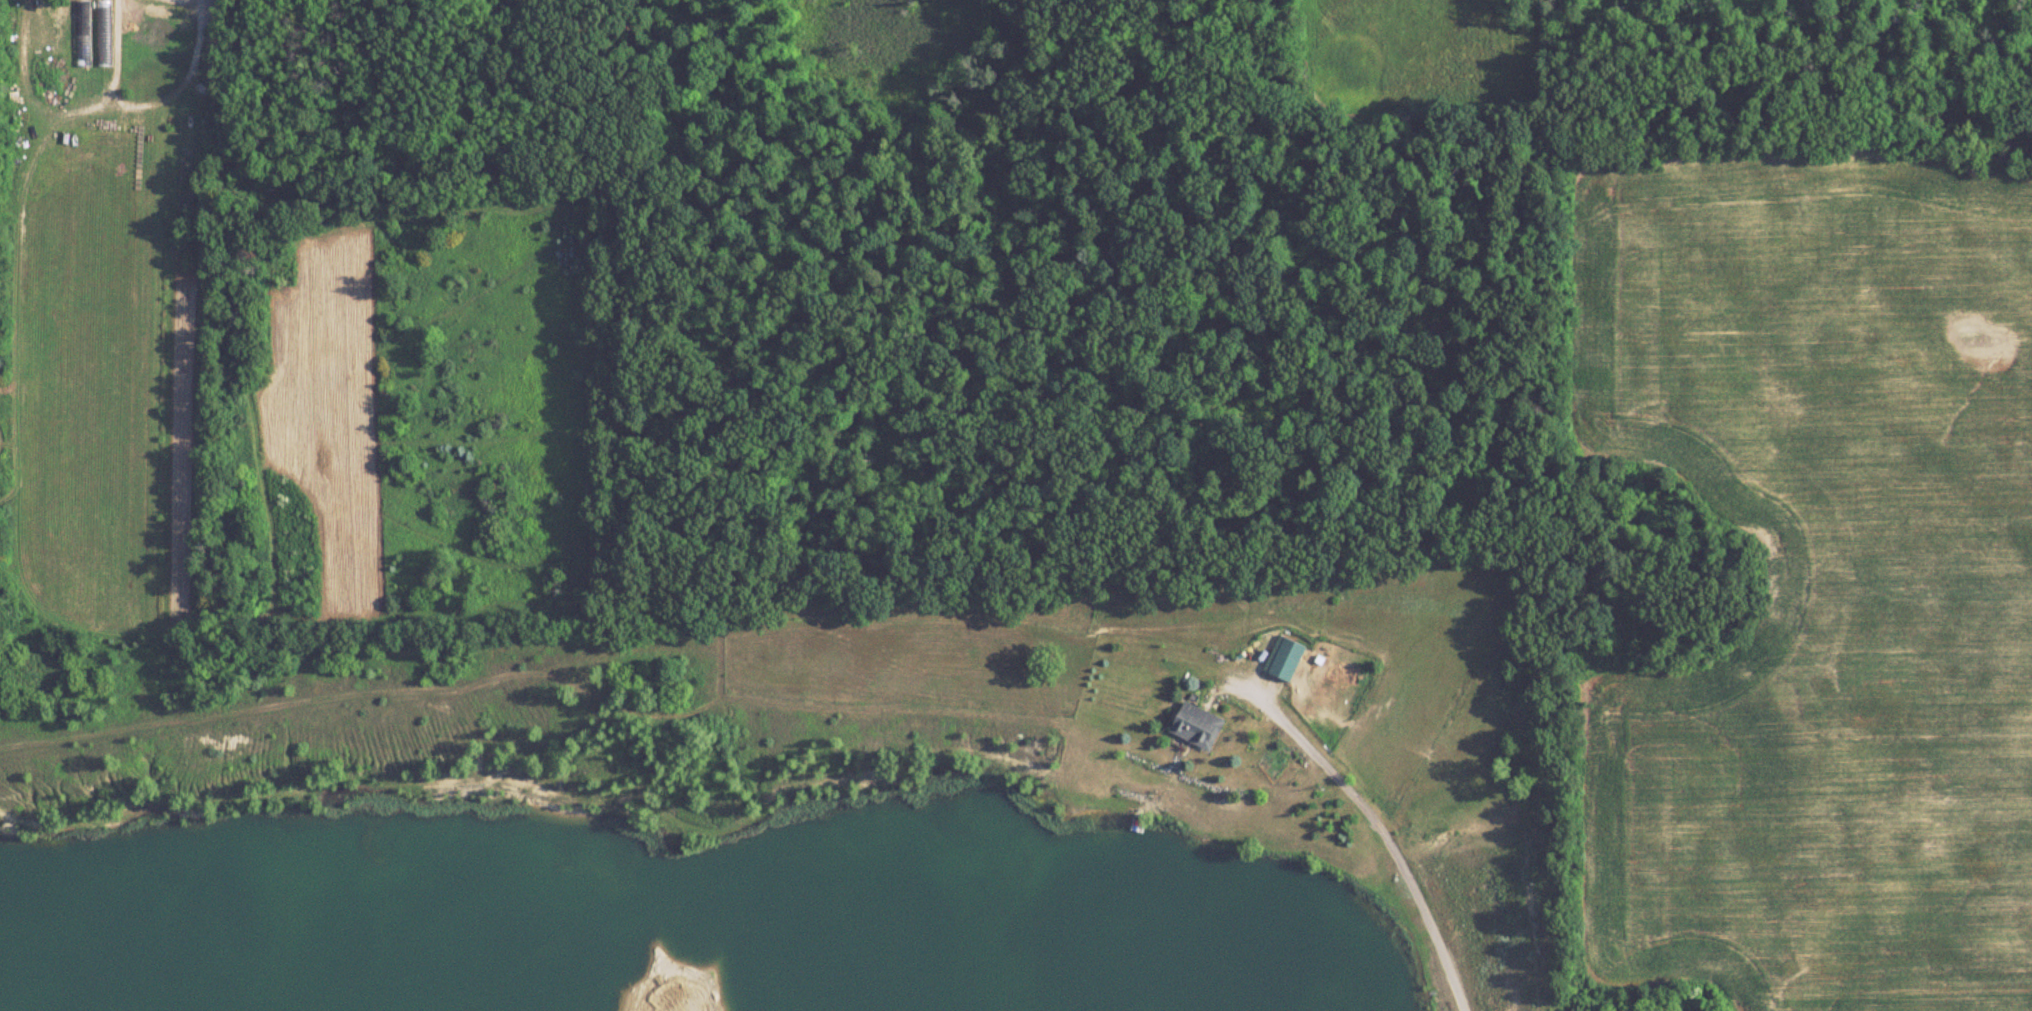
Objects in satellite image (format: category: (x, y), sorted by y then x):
building: (82, 32)
building: (102, 32)
building: (1282, 659)
building: (1194, 725)
quarry: (791, 808)
road: (1391, 843)

